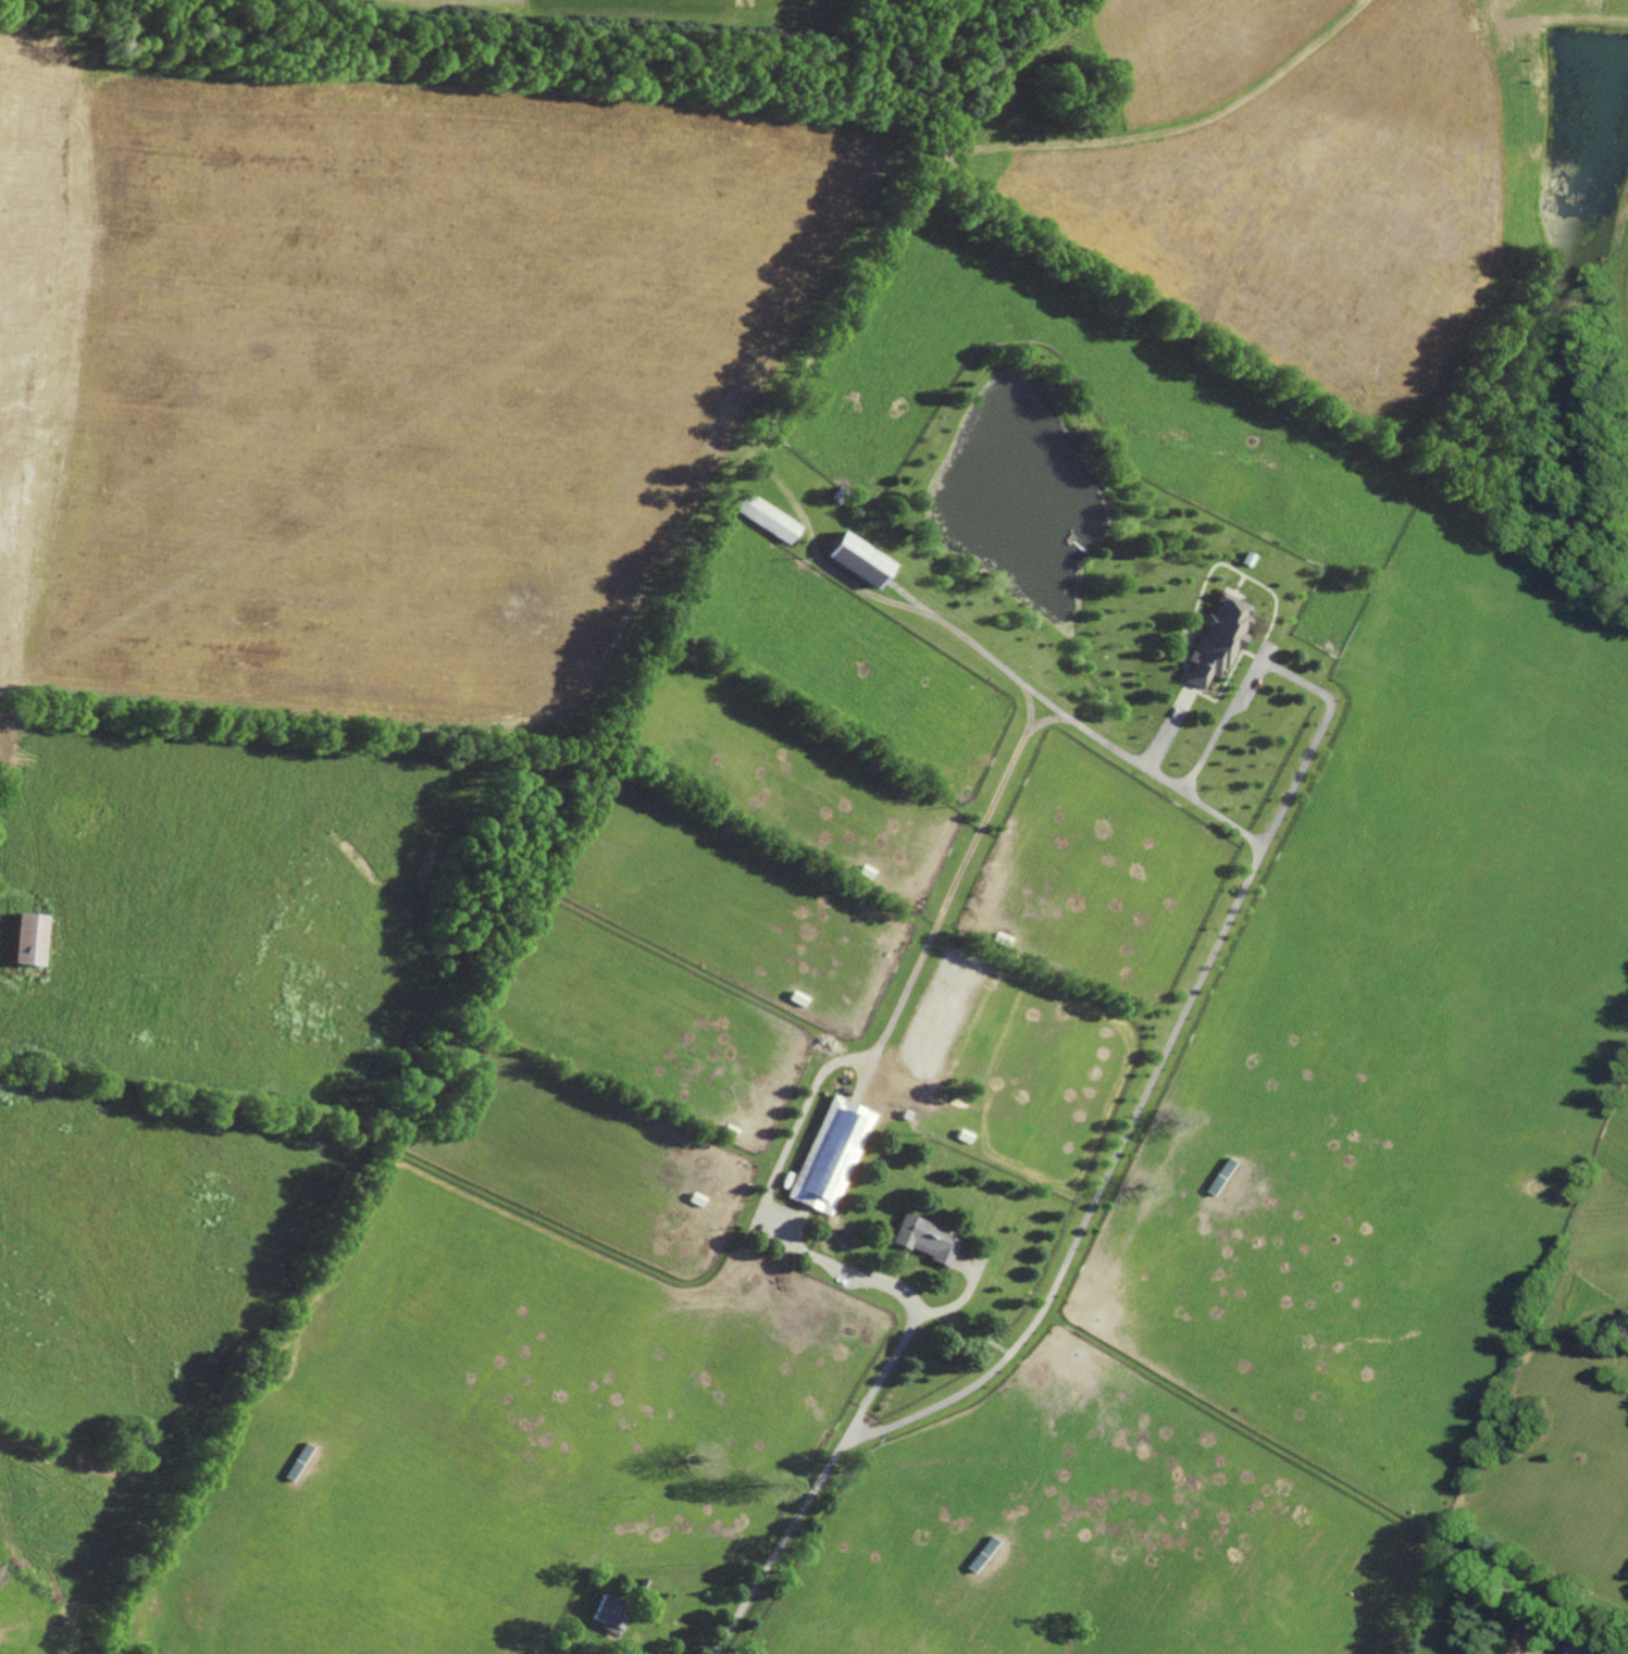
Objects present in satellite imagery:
building: (763, 517)
building: (1216, 641)
road: (1039, 684)
road: (1168, 732)
road: (1203, 761)
building: (26, 938)
building: (831, 1155)
road: (1106, 1187)
building: (924, 1239)
road: (798, 1251)
road: (910, 1330)
building: (610, 1616)
building: (1584, 1644)

